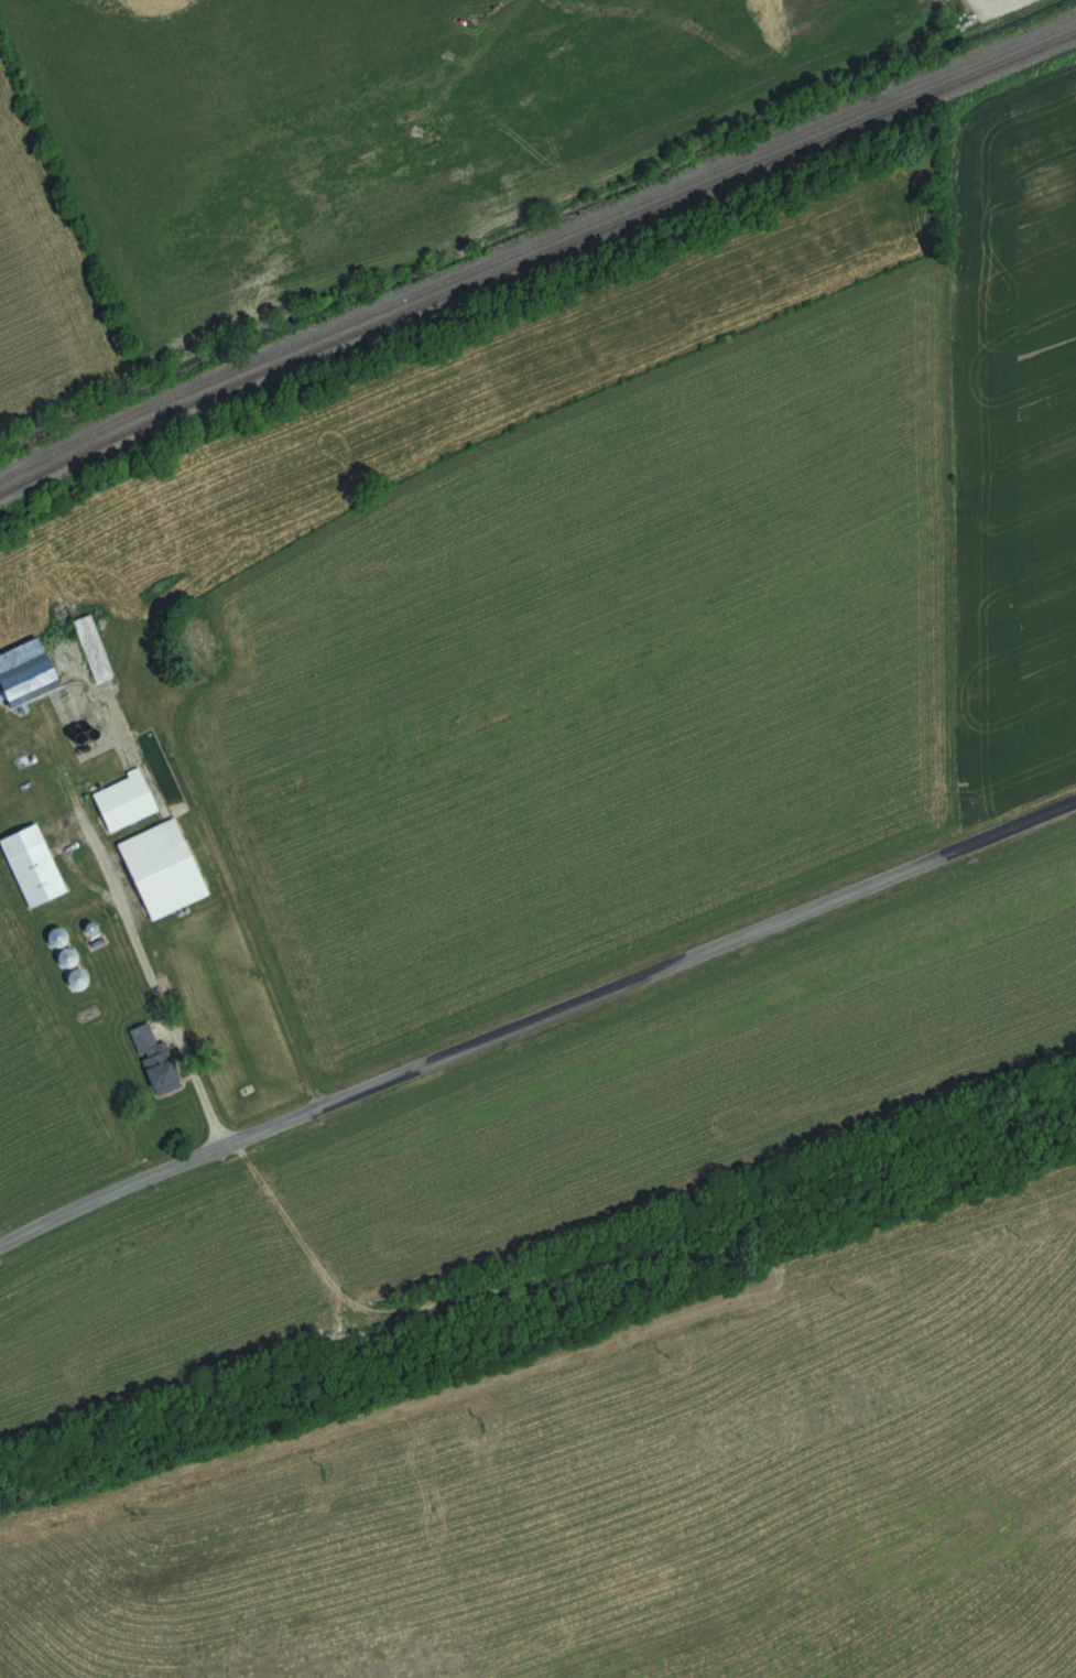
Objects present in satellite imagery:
road: (993, 8)
railway: (534, 256)
crop: (43, 274)
building: (55, 663)
crop: (654, 670)
building: (128, 801)
building: (37, 838)
building: (165, 869)
road: (224, 891)
road: (129, 951)
road: (536, 1018)
building: (161, 1062)
crop: (48, 1095)
crop: (559, 1132)
crop: (635, 1498)

